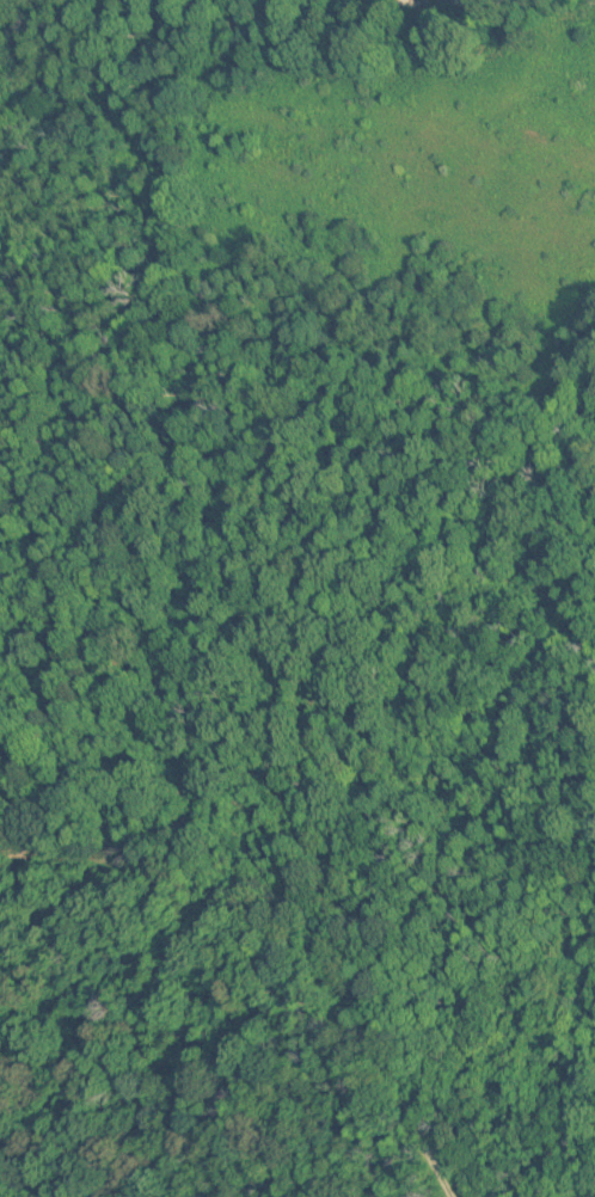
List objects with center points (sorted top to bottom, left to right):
road: (269, 919)
road: (433, 1175)

